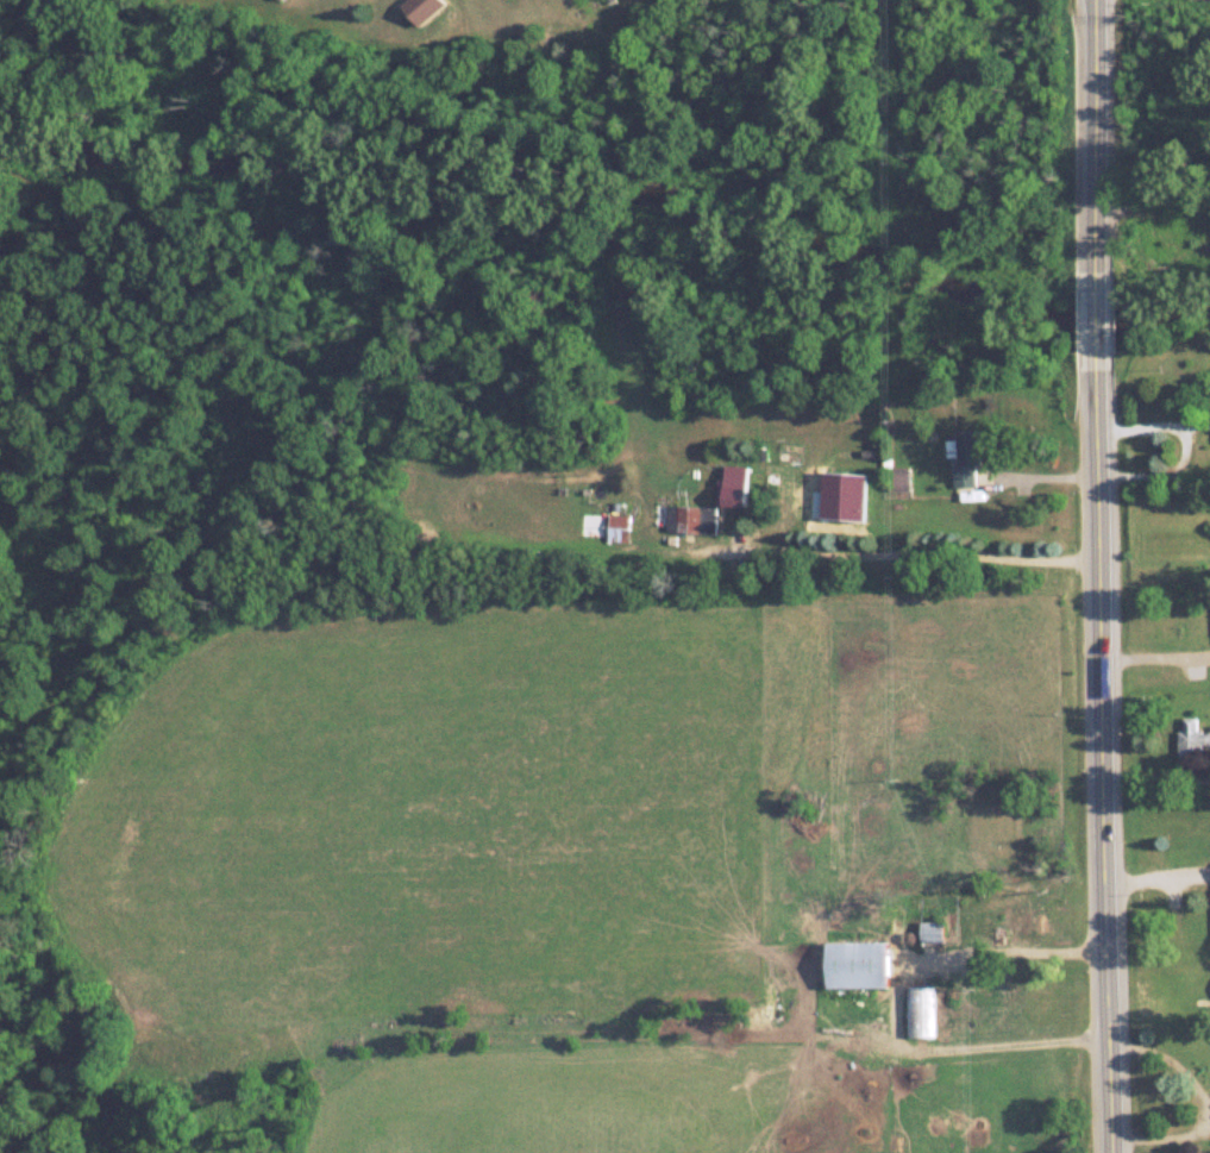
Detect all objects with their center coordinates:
road: (1102, 142)
river: (613, 183)
road: (1106, 332)
building: (970, 456)
building: (902, 477)
building: (736, 490)
building: (690, 518)
building: (617, 526)
road: (914, 551)
road: (1159, 653)
building: (1193, 738)
road: (1111, 766)
road: (1161, 773)
crop: (452, 813)
building: (1023, 925)
building: (858, 964)
road: (889, 1005)
building: (919, 1013)
crop: (594, 1099)
road: (1205, 1099)
crop: (1001, 1110)

